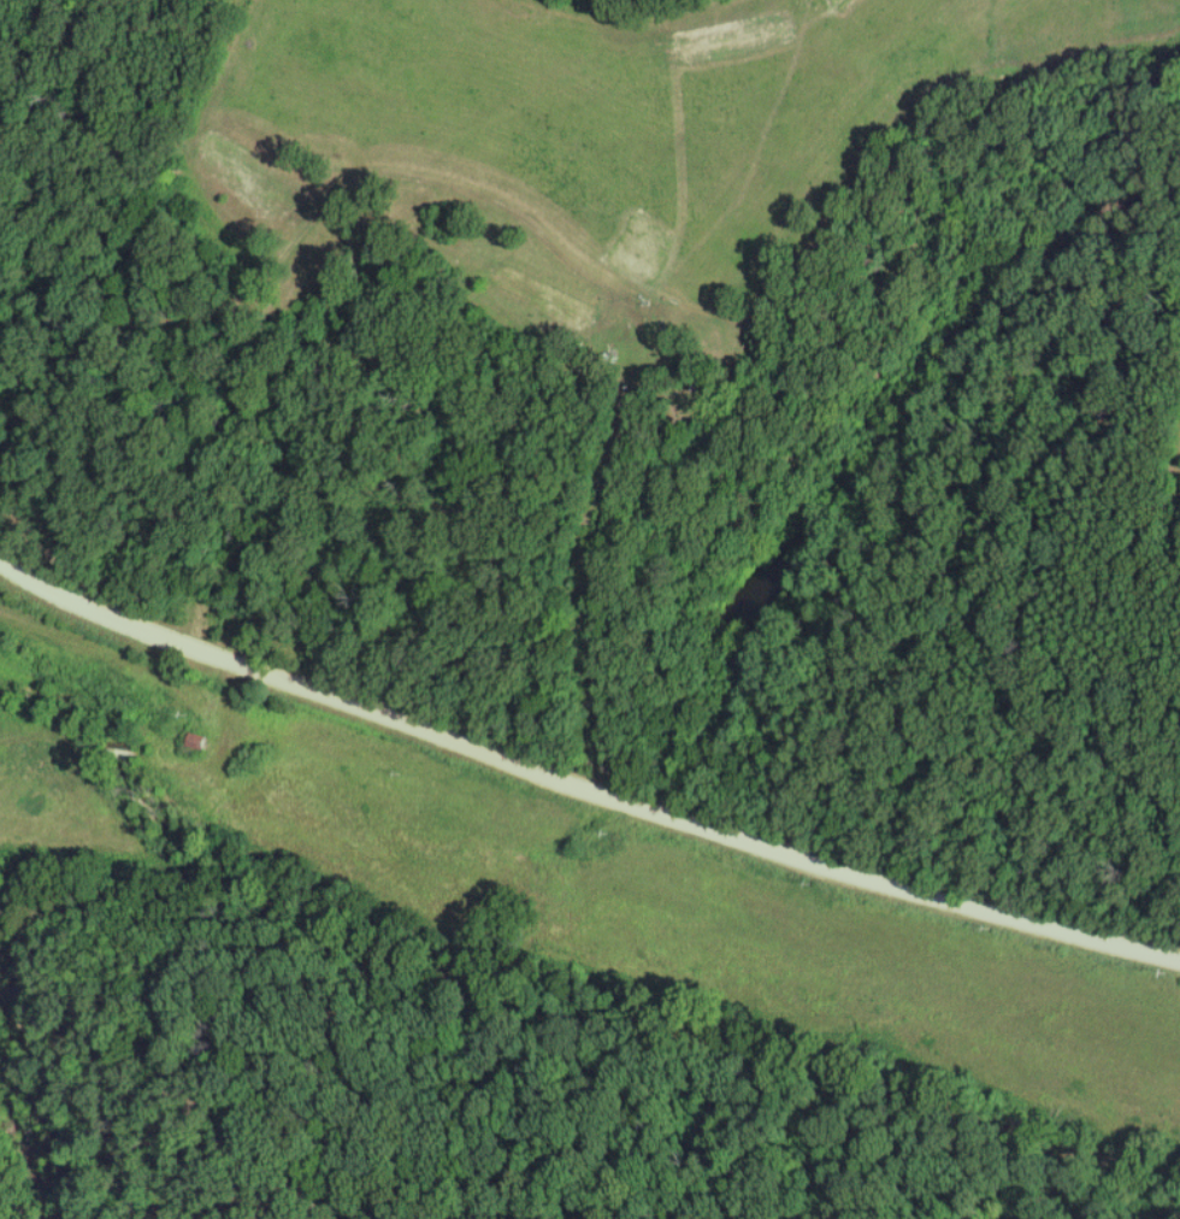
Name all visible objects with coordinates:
road: (578, 787)

